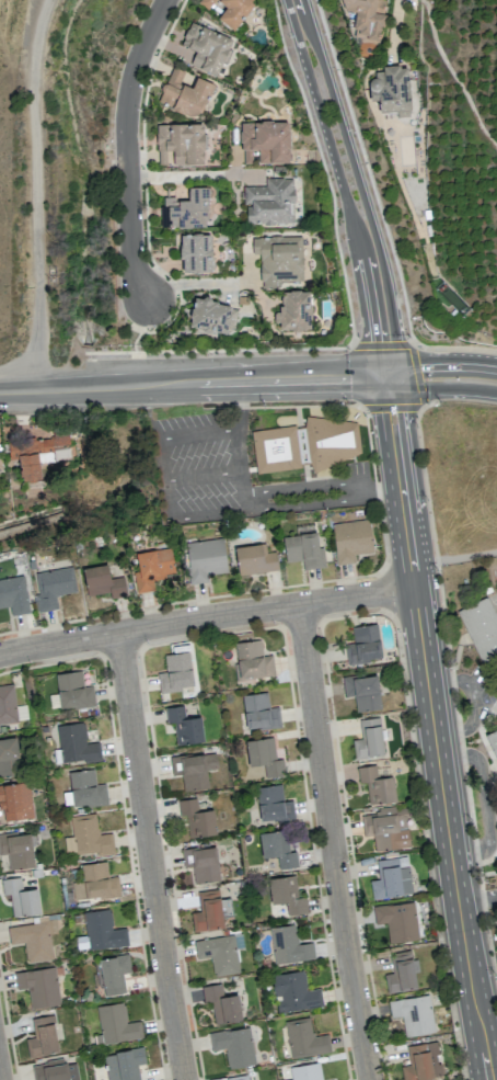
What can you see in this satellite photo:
building: (207, 3)
building: (234, 11)
building: (366, 19)
road: (394, 31)
building: (206, 48)
building: (391, 90)
building: (184, 94)
building: (265, 141)
building: (181, 144)
road: (129, 146)
road: (194, 174)
road: (354, 185)
road: (39, 194)
building: (269, 202)
building: (186, 209)
building: (195, 253)
building: (279, 259)
road: (194, 283)
building: (294, 310)
building: (213, 316)
road: (441, 363)
traffic signals: (389, 376)
road: (242, 382)
road: (441, 387)
road: (48, 390)
road: (243, 406)
road: (181, 439)
building: (332, 441)
building: (276, 448)
road: (240, 452)
building: (37, 454)
road: (245, 484)
road: (304, 490)
road: (382, 492)
road: (172, 498)
road: (248, 503)
road: (307, 507)
building: (351, 539)
building: (303, 550)
road: (454, 558)
building: (205, 559)
building: (255, 559)
building: (152, 568)
building: (103, 582)
building: (53, 587)
building: (13, 595)
road: (207, 616)
building: (481, 629)
building: (363, 645)
road: (425, 653)
building: (252, 660)
building: (175, 672)
building: (73, 691)
building: (362, 691)
building: (496, 691)
road: (470, 701)
building: (8, 705)
building: (259, 712)
building: (184, 726)
building: (369, 739)
building: (493, 740)
building: (76, 743)
building: (9, 757)
building: (264, 757)
building: (194, 769)
building: (377, 785)
building: (85, 788)
road: (483, 798)
building: (15, 800)
building: (273, 804)
building: (196, 818)
building: (386, 828)
building: (86, 837)
road: (332, 842)
building: (277, 848)
building: (18, 850)
road: (148, 856)
building: (201, 863)
building: (391, 879)
building: (95, 882)
building: (286, 895)
building: (21, 897)
road: (479, 902)
building: (207, 911)
building: (397, 921)
building: (102, 930)
building: (34, 939)
building: (289, 945)
building: (220, 953)
building: (401, 973)
building: (114, 974)
building: (38, 986)
building: (293, 992)
building: (221, 1003)
road: (476, 1005)
building: (413, 1014)
building: (116, 1024)
building: (42, 1036)
building: (304, 1038)
building: (234, 1046)
building: (421, 1062)
building: (124, 1064)
building: (55, 1070)
building: (305, 1071)
building: (238, 1077)

